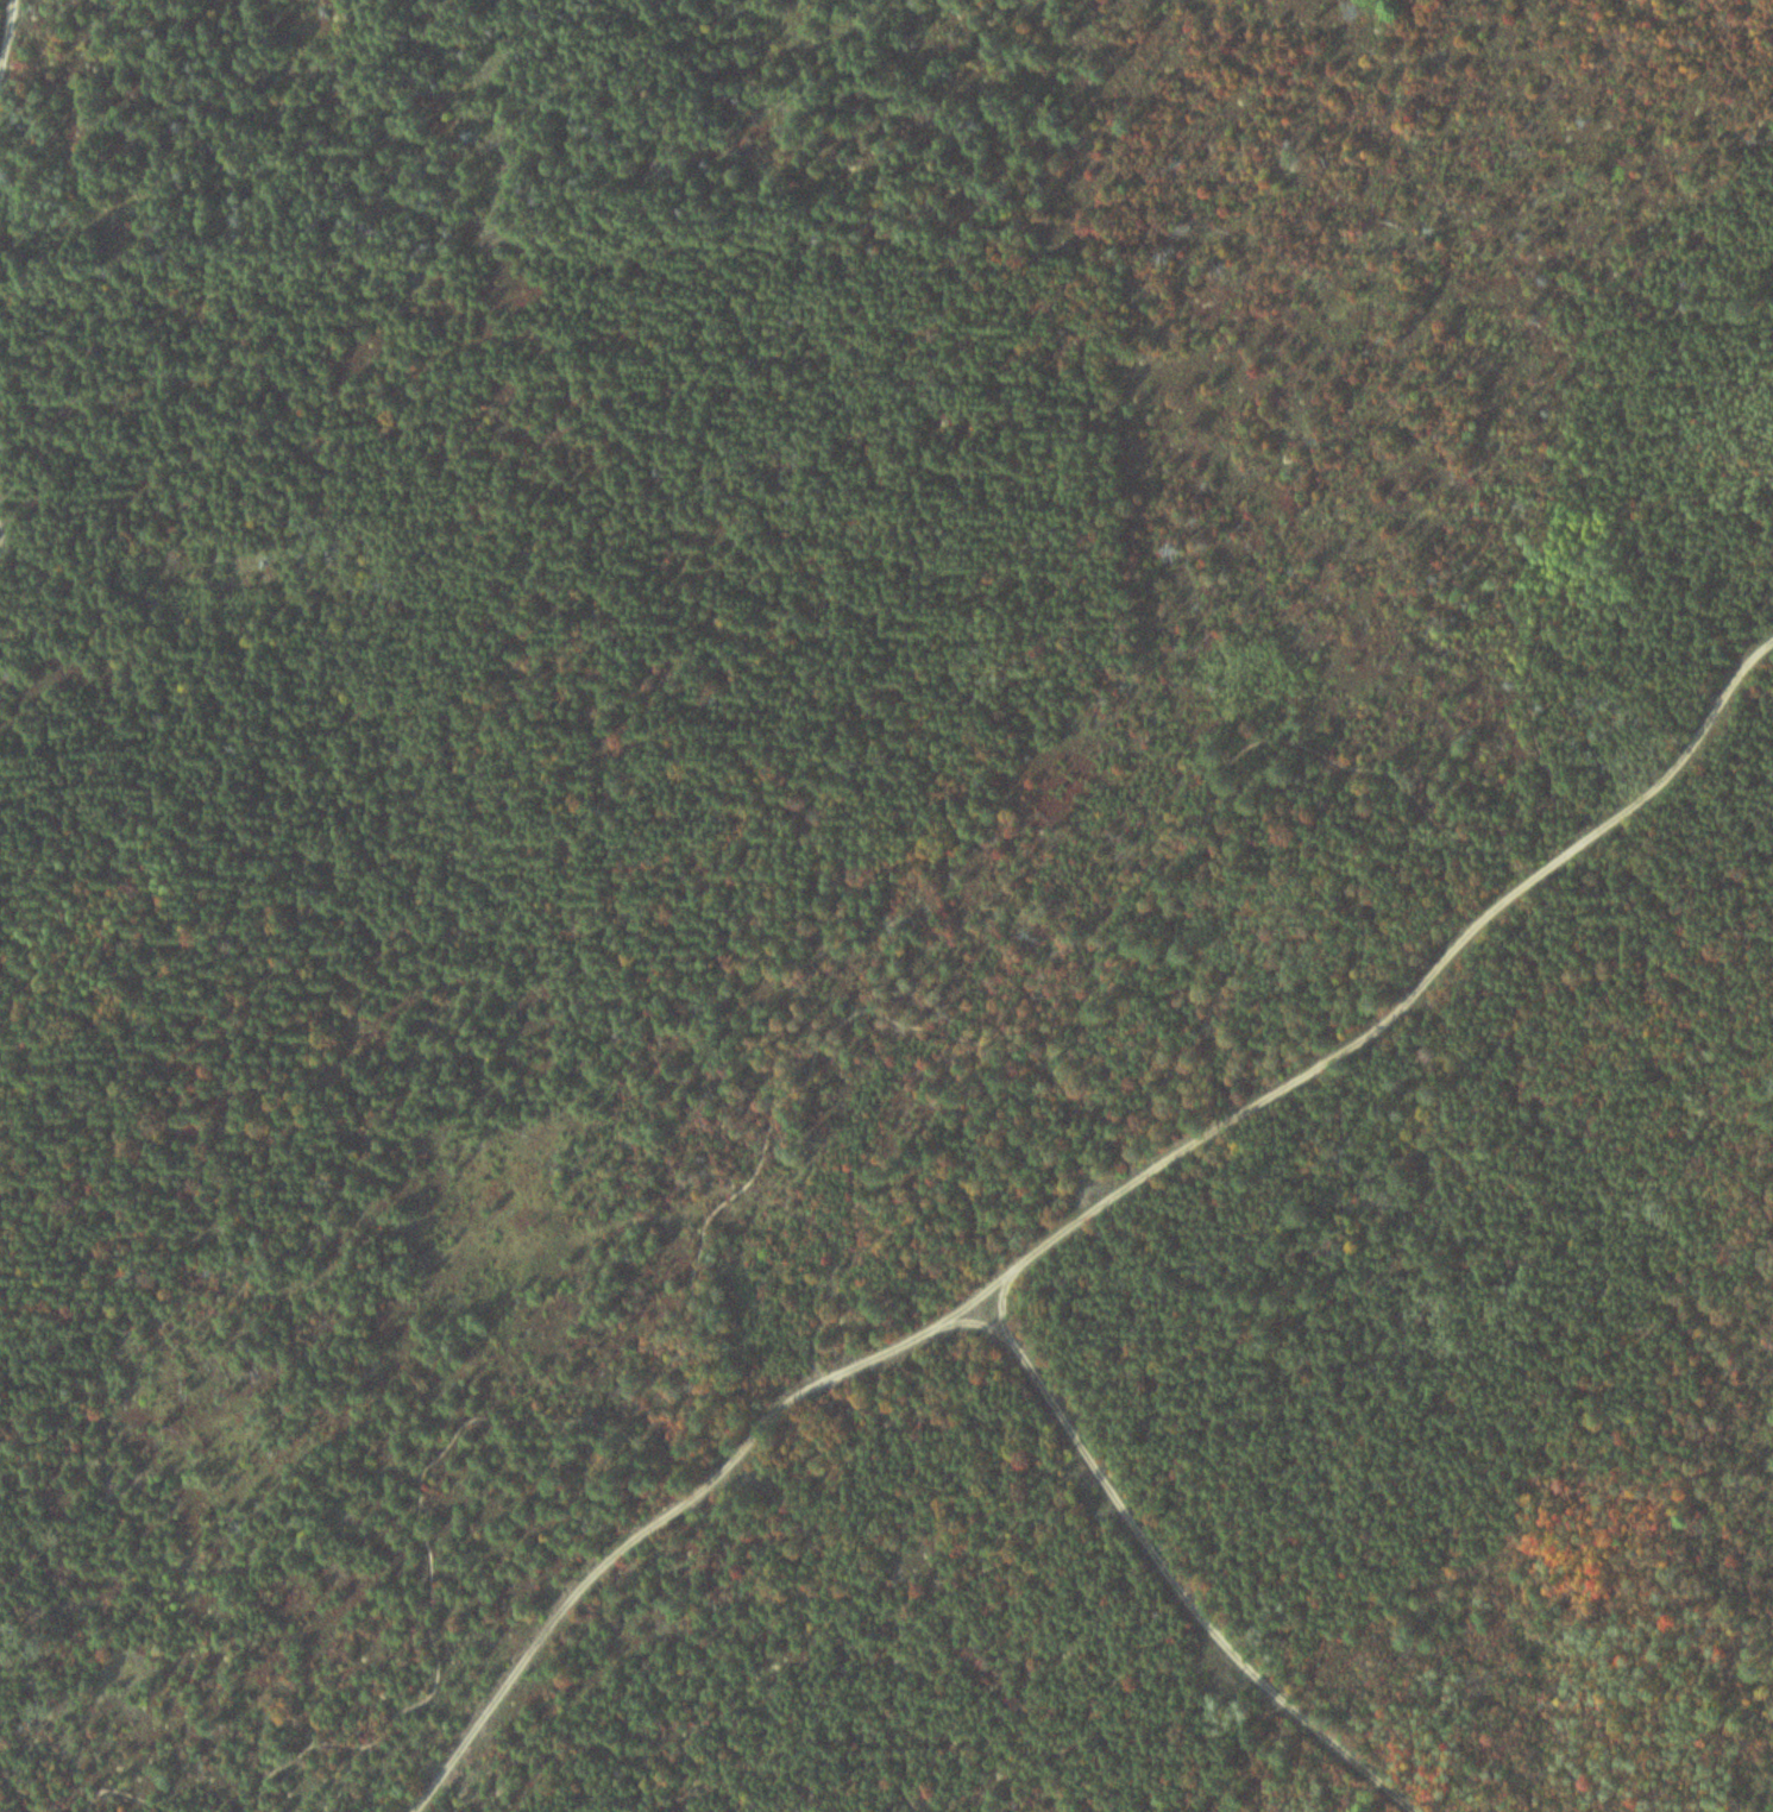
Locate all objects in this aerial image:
road: (15, 59)
road: (999, 1051)
road: (1090, 1219)
road: (1190, 1571)
road: (122, 1791)

